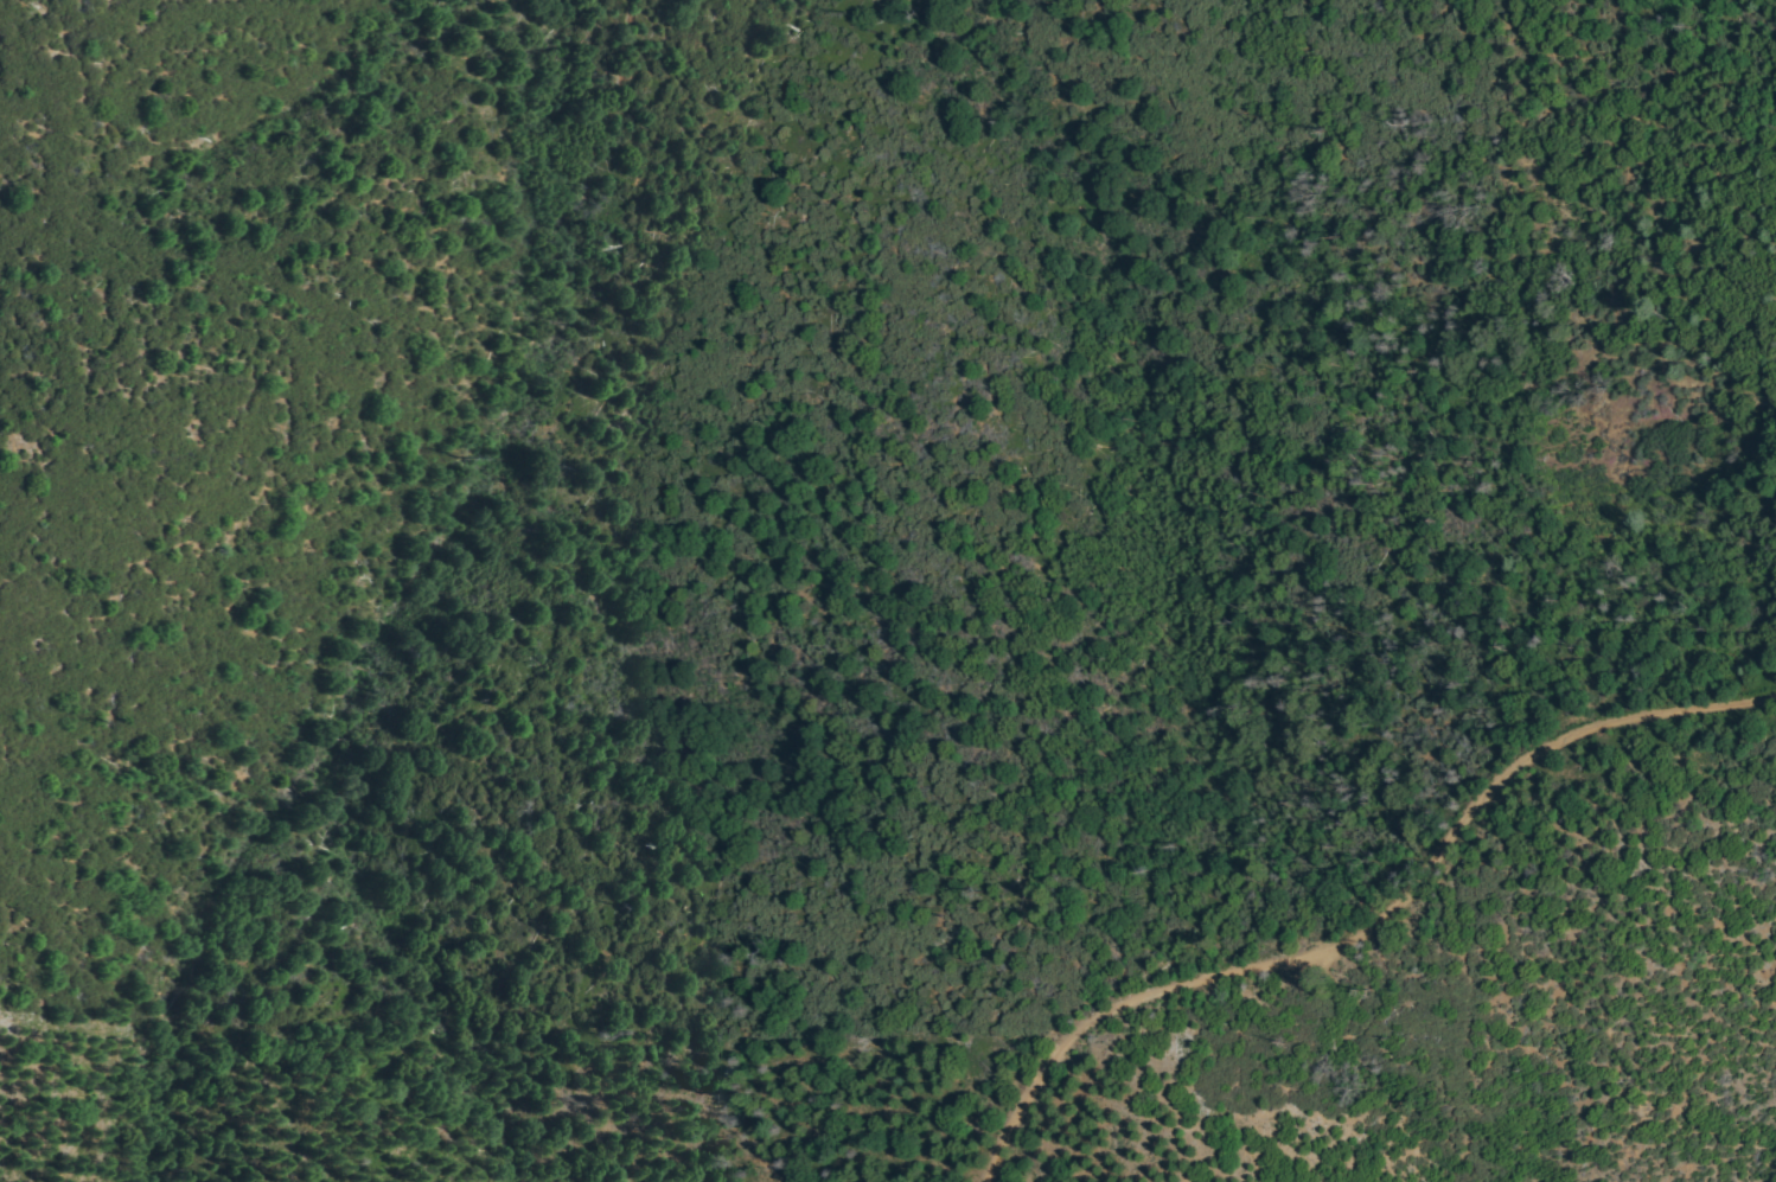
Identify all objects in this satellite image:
road: (1379, 937)

